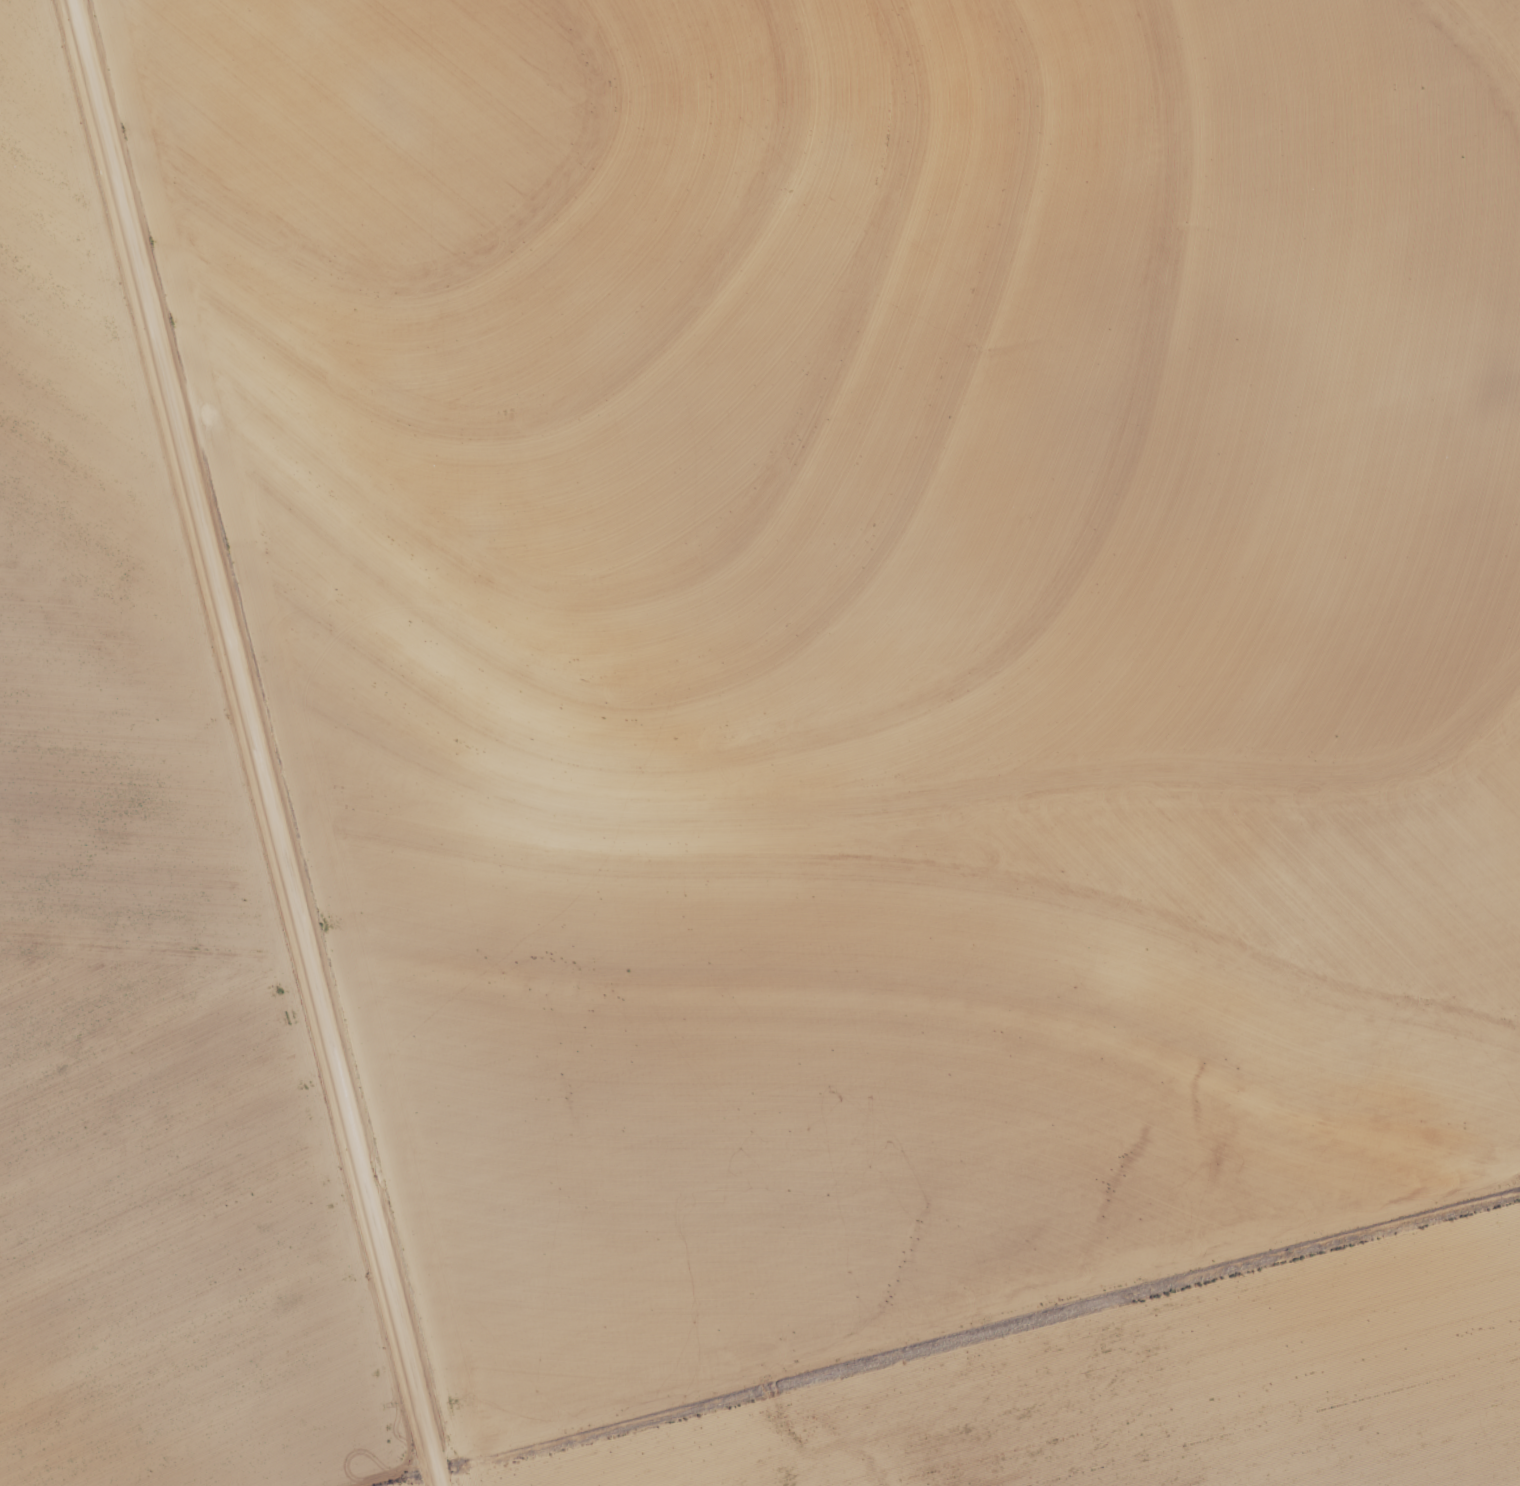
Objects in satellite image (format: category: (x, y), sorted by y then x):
road: (258, 742)

